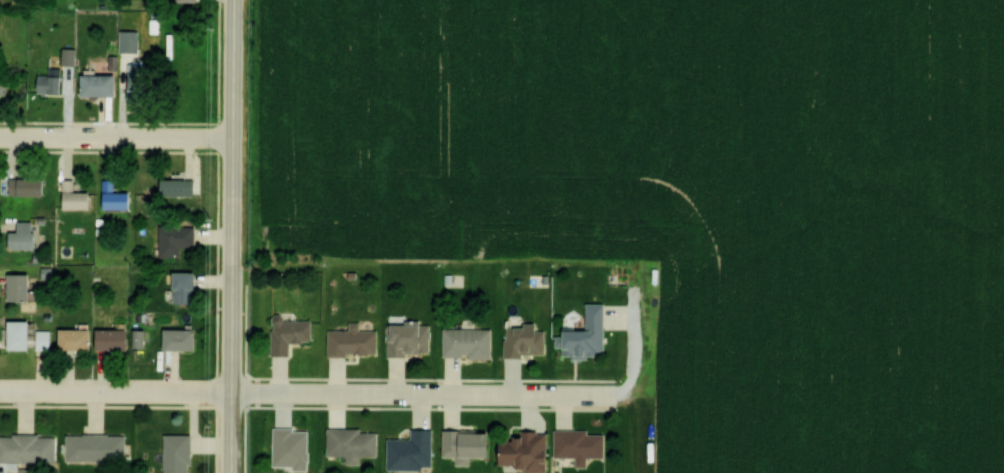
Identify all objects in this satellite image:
building: (195, 0)
building: (53, 81)
building: (143, 82)
building: (105, 83)
building: (6, 84)
road: (116, 139)
building: (32, 186)
building: (181, 186)
crop: (688, 193)
building: (119, 196)
building: (80, 197)
building: (28, 235)
road: (236, 236)
building: (180, 239)
building: (24, 287)
building: (191, 287)
building: (285, 333)
building: (24, 334)
building: (582, 334)
building: (124, 338)
building: (404, 338)
building: (47, 339)
building: (81, 339)
building: (185, 339)
building: (521, 339)
building: (348, 341)
building: (463, 342)
road: (303, 396)
building: (348, 443)
building: (462, 443)
building: (575, 444)
building: (29, 447)
building: (99, 447)
building: (286, 448)
building: (518, 450)
building: (407, 451)
building: (181, 453)

